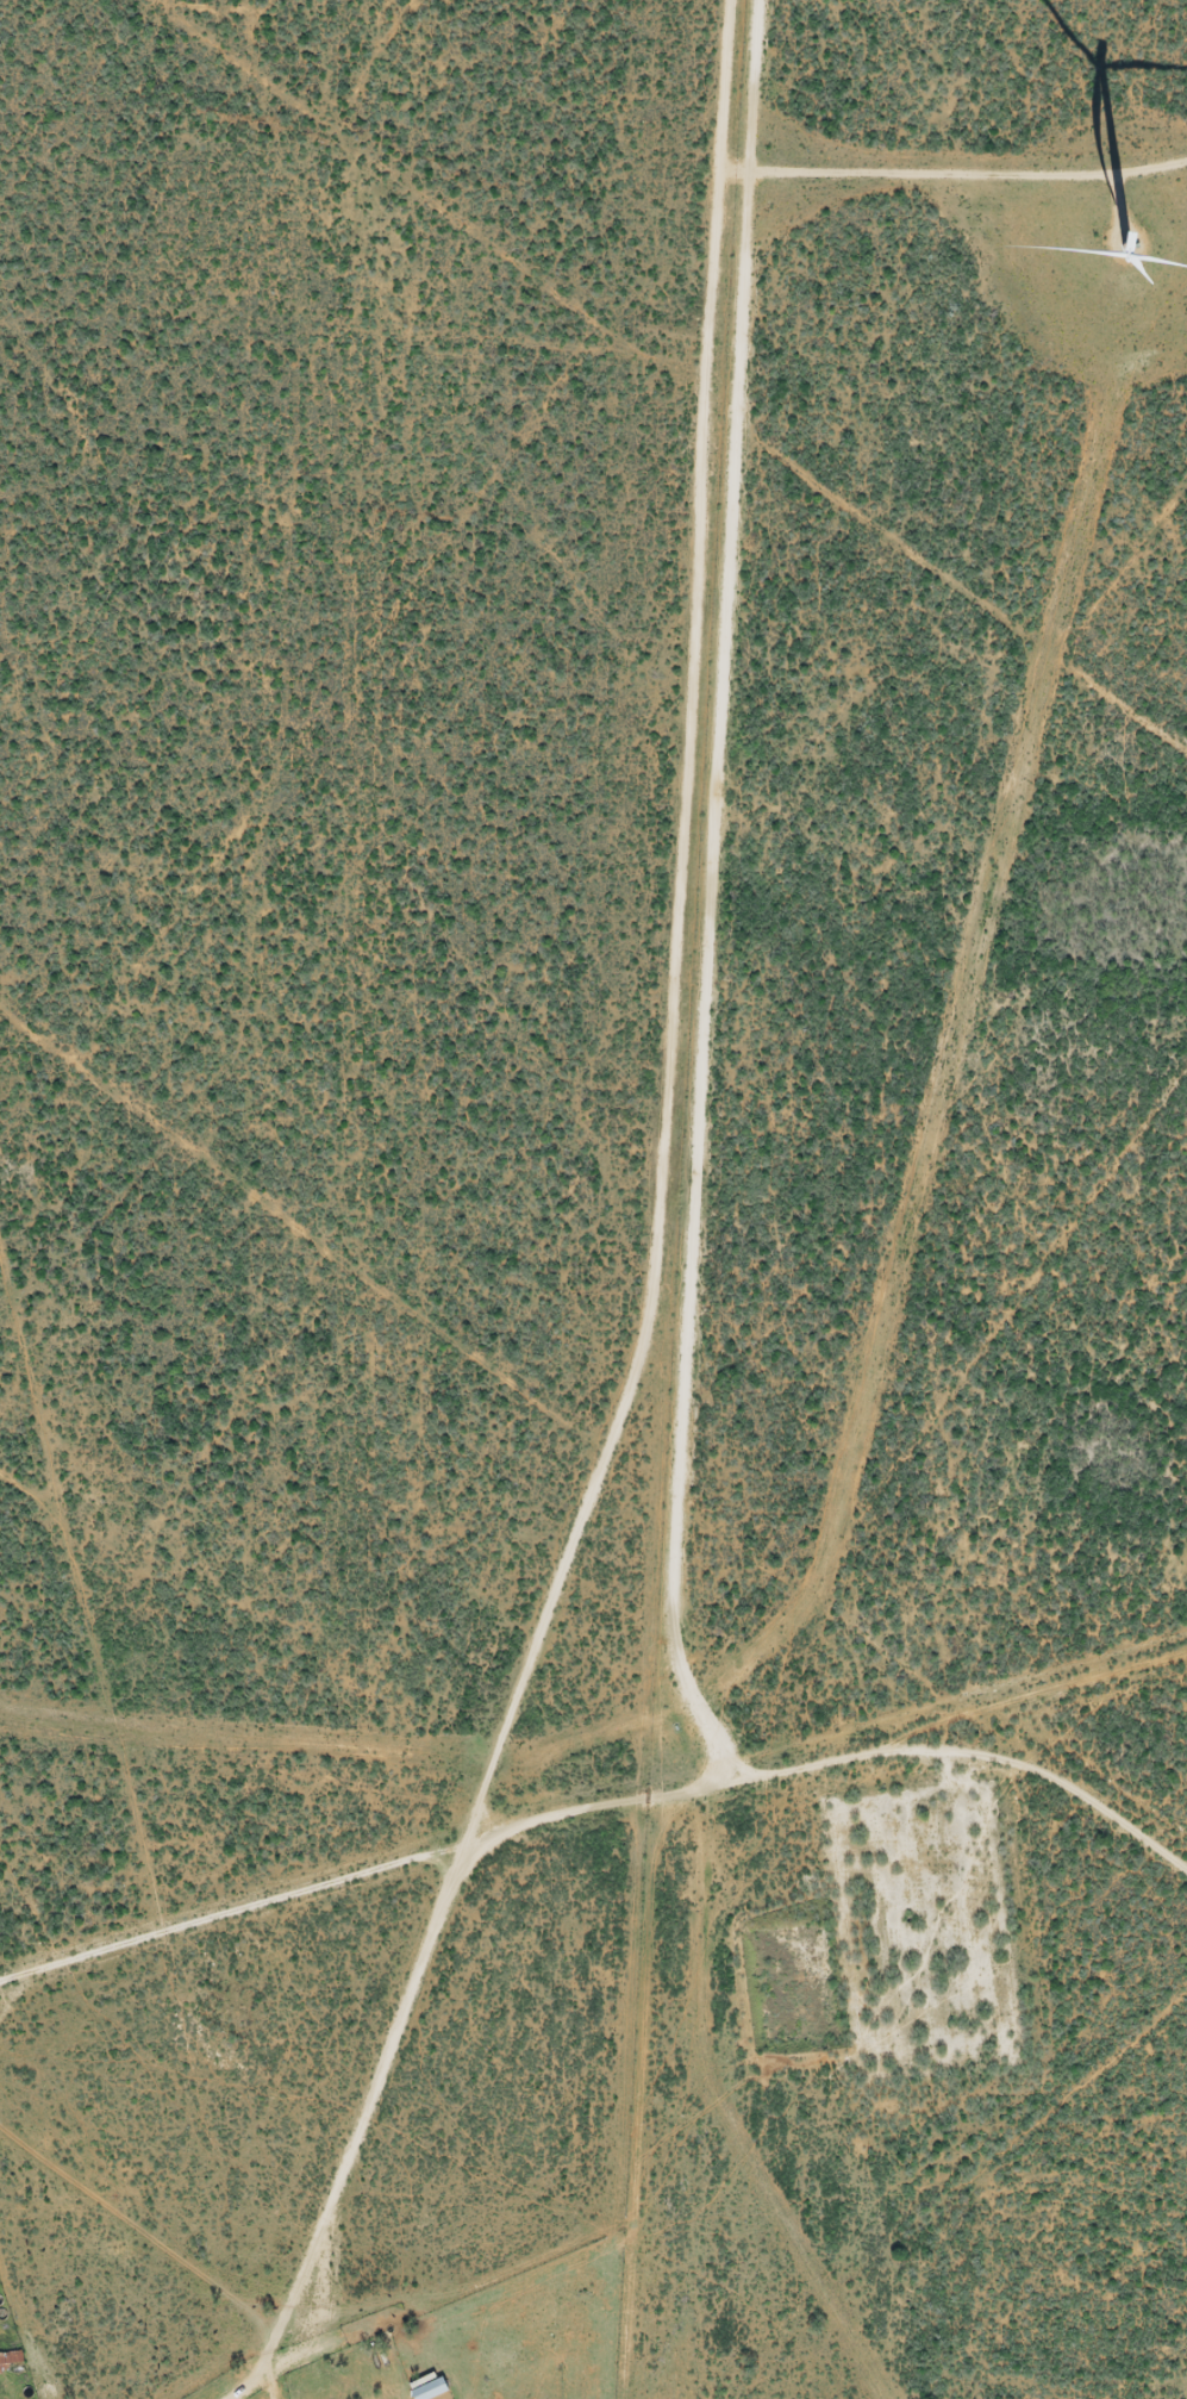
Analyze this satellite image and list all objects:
wind turbine: (1108, 262)
road: (675, 1235)
building: (432, 2389)

